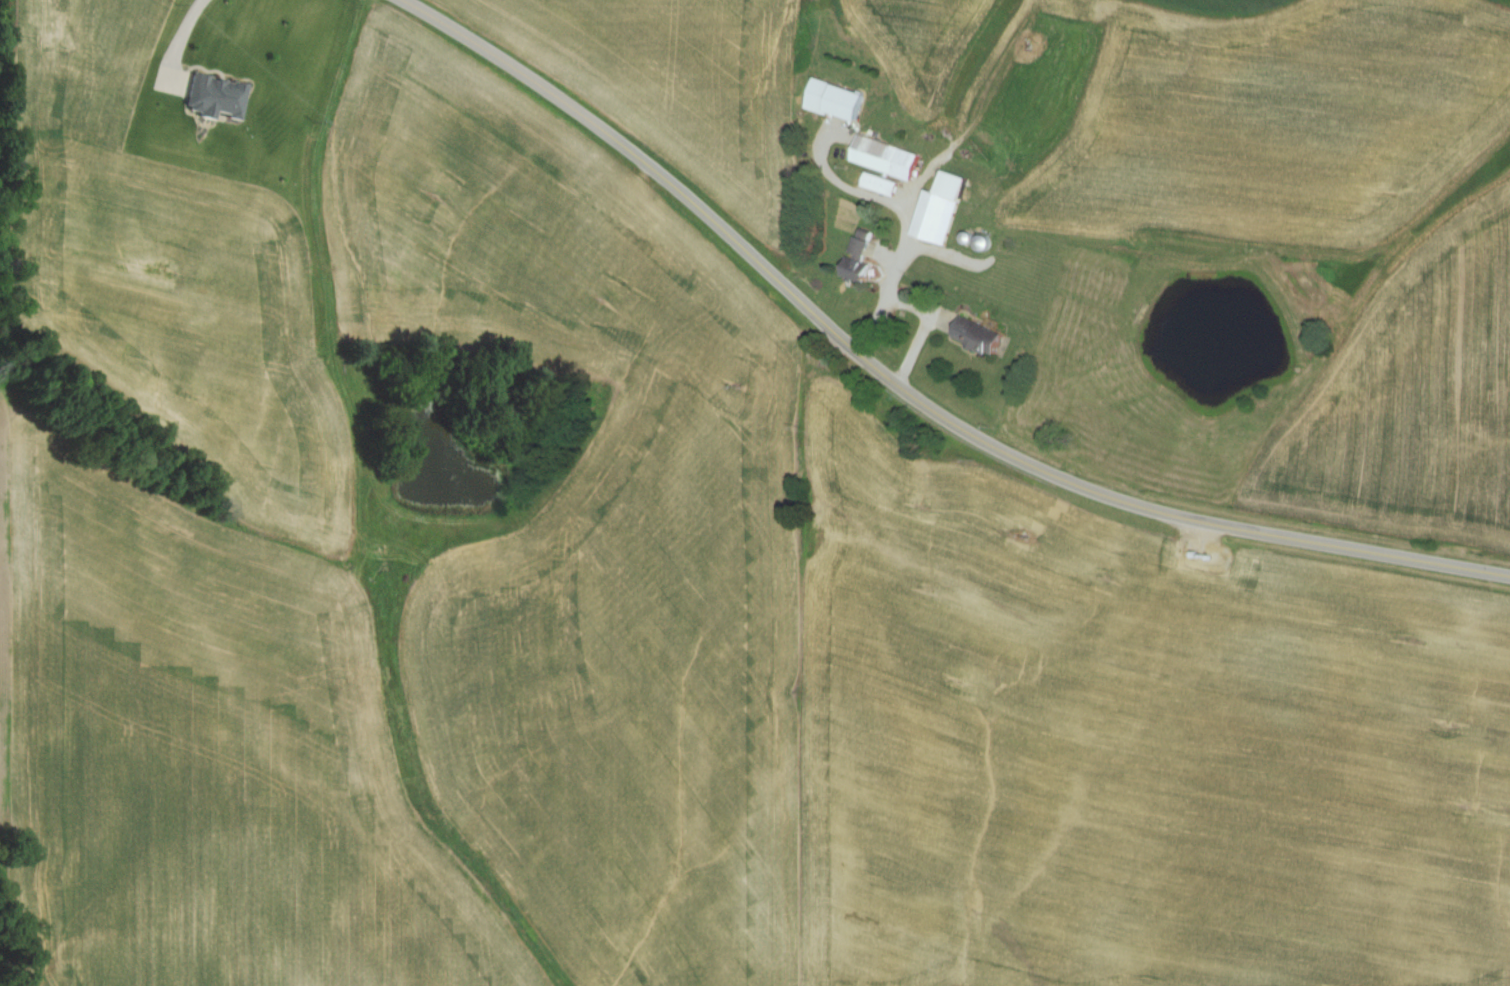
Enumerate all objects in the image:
road: (176, 34)
road: (580, 44)
building: (218, 96)
building: (838, 98)
building: (887, 157)
building: (882, 183)
building: (938, 217)
road: (906, 221)
building: (860, 259)
road: (923, 328)
building: (981, 335)
road: (907, 390)

